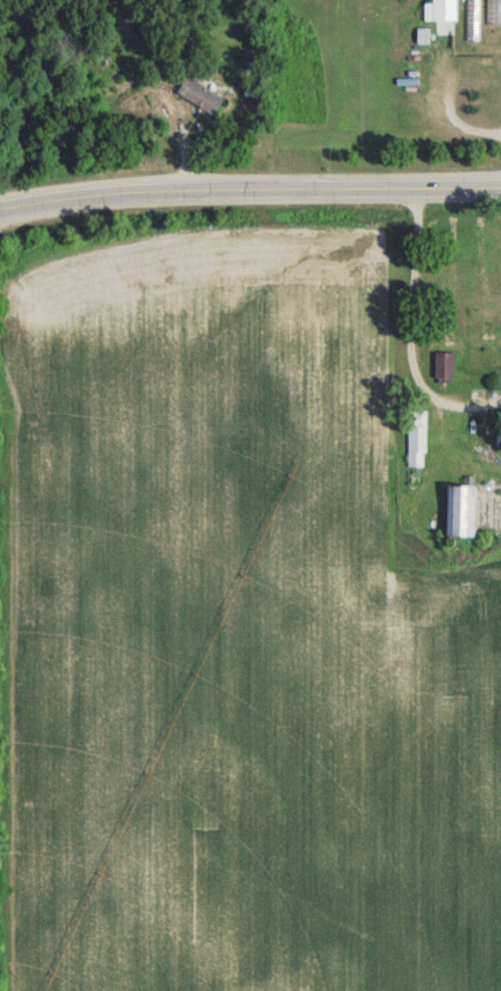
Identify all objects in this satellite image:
building: (439, 11)
building: (488, 34)
building: (93, 92)
building: (197, 96)
building: (450, 99)
road: (250, 191)
road: (410, 334)
building: (442, 369)
building: (415, 443)
building: (458, 511)

